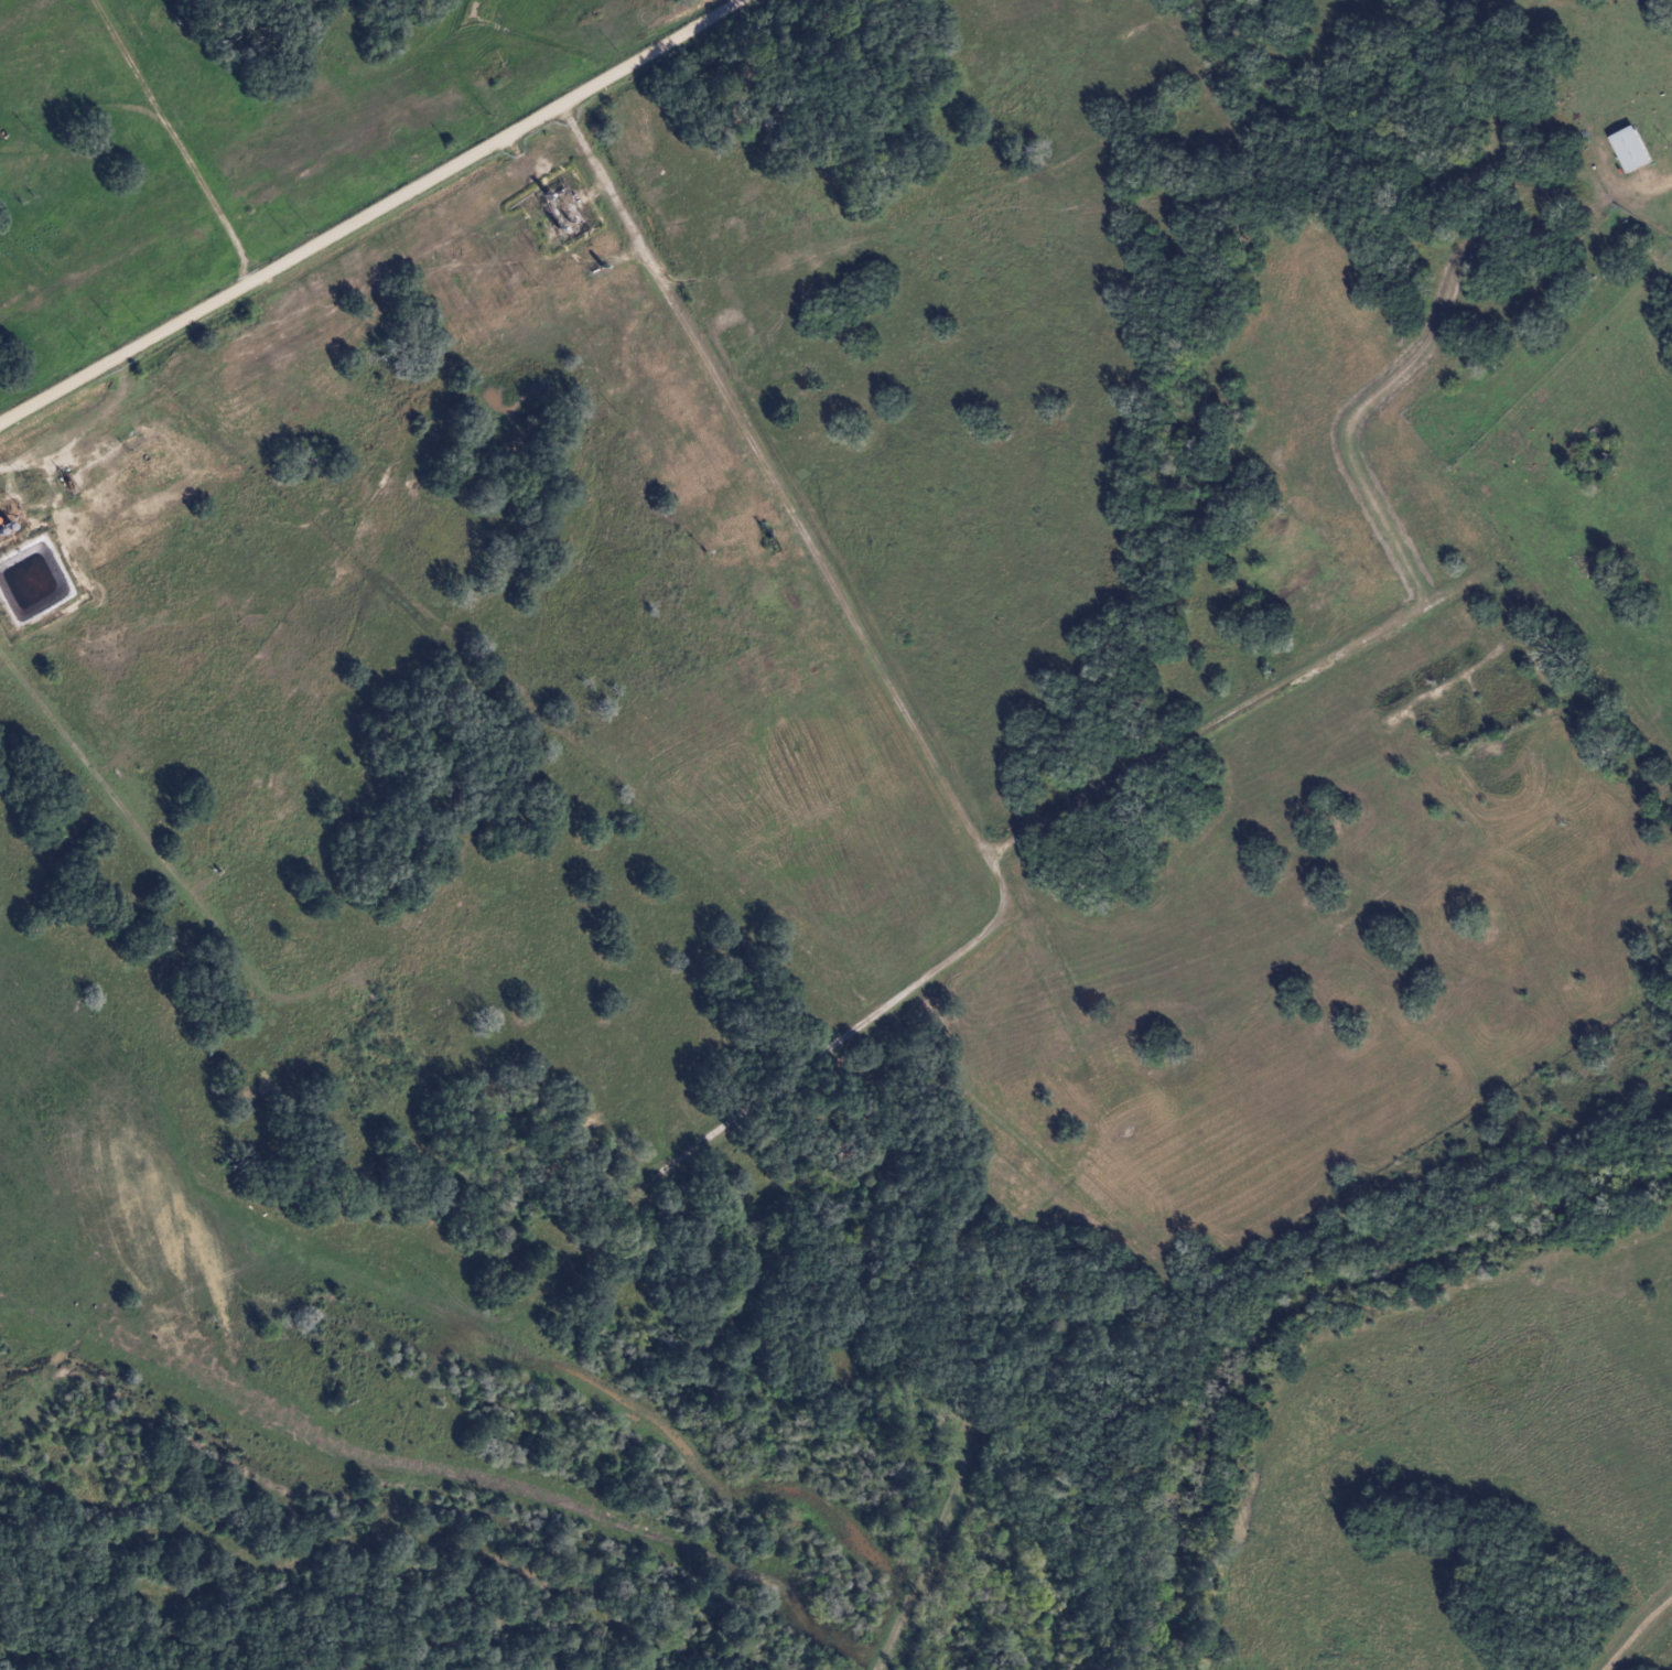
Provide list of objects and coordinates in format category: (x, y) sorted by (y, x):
road: (176, 138)
building: (1632, 150)
road: (1662, 183)
road: (375, 211)
road: (897, 692)
road: (1244, 707)
road: (172, 871)

